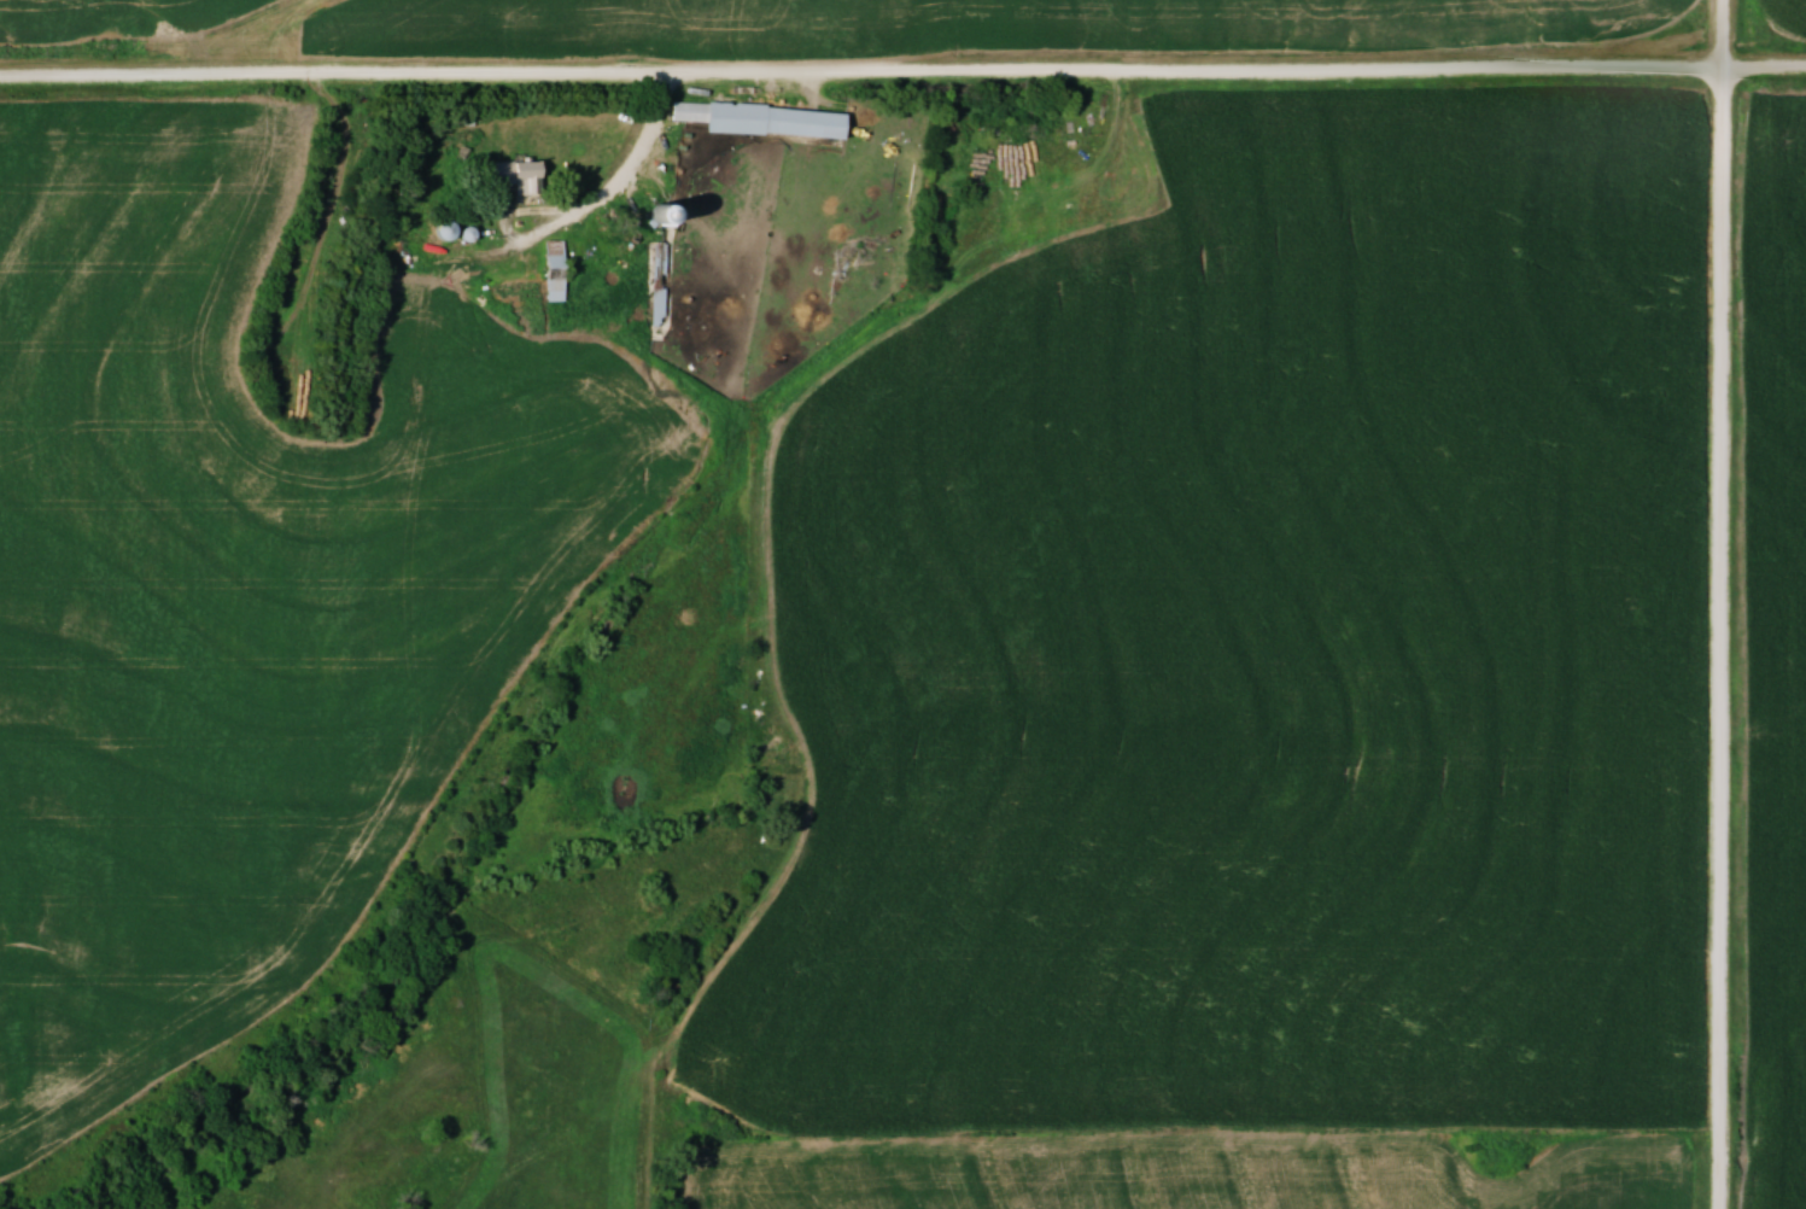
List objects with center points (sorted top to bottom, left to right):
road: (902, 74)
building: (756, 117)
road: (637, 164)
building: (512, 173)
road: (539, 234)
building: (550, 288)
road: (1723, 603)

